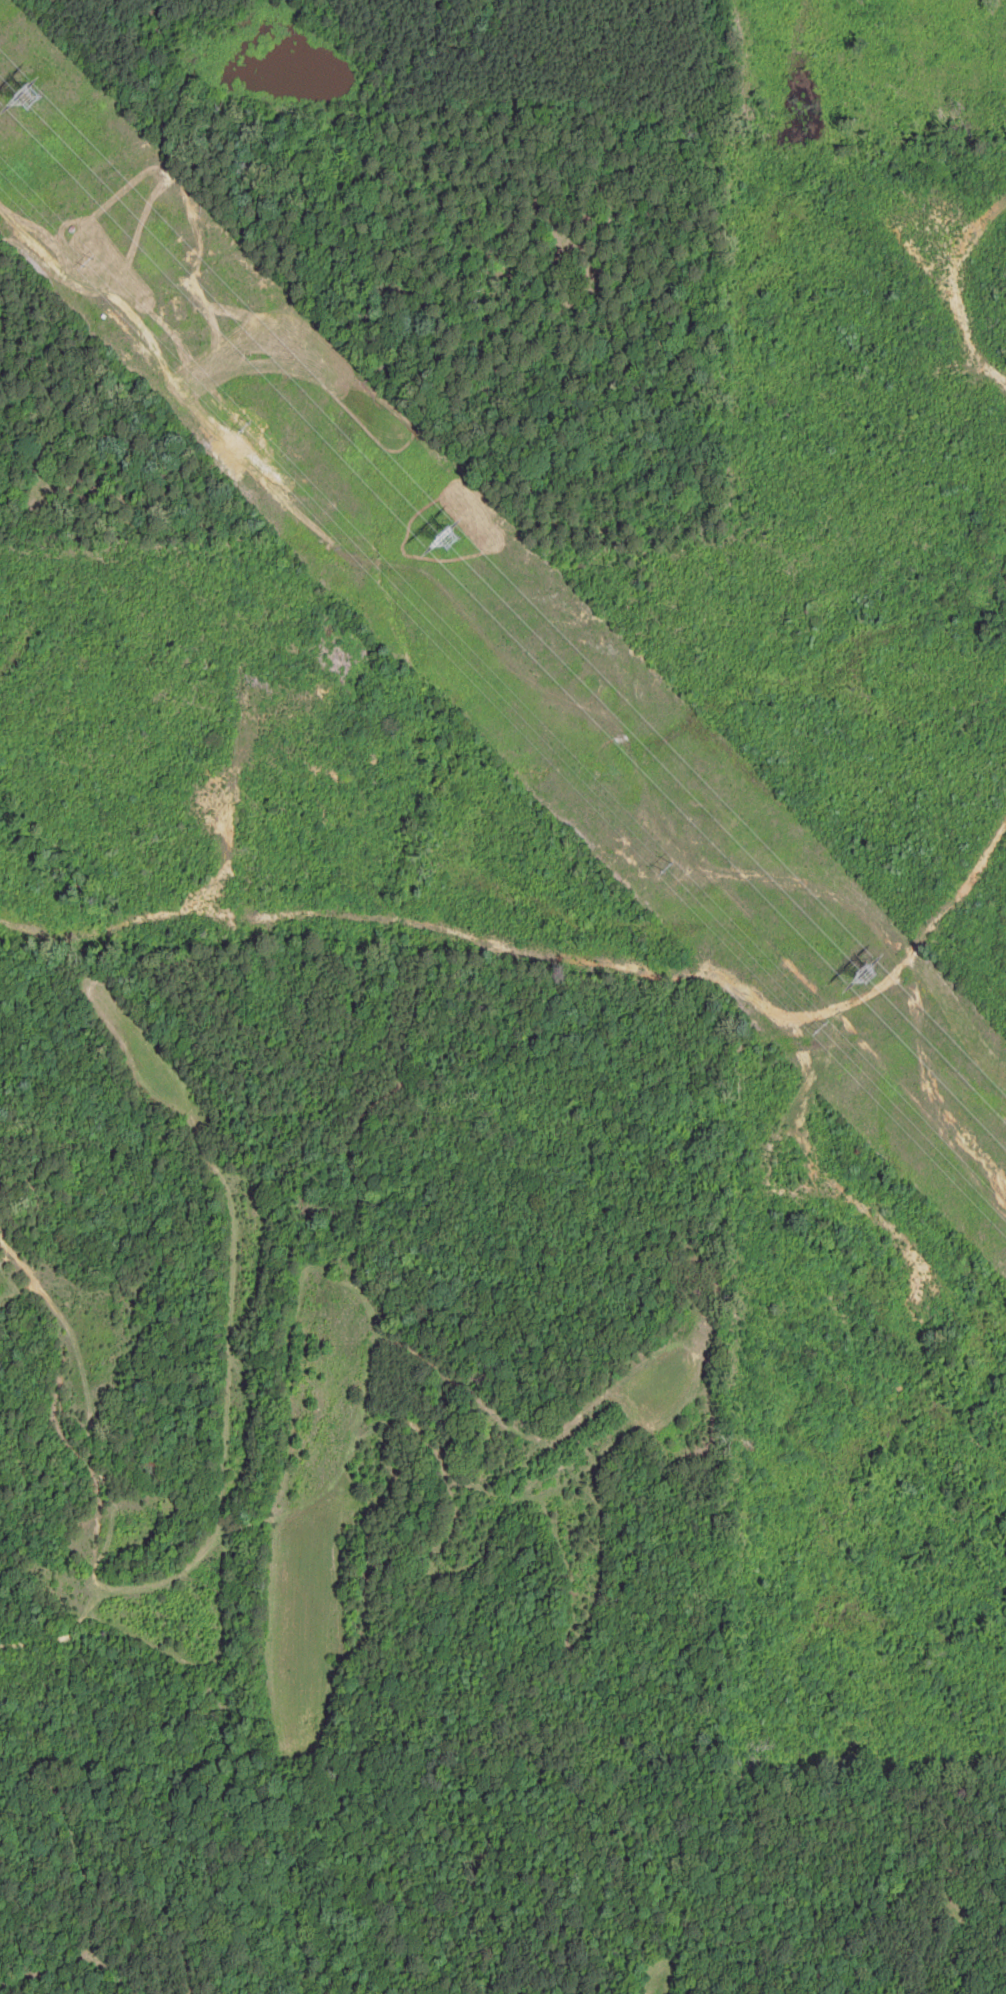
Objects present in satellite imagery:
power tower: (5, 95)
power tower: (90, 260)
power tower: (247, 425)
power tower: (434, 537)
power tower: (671, 867)
power tower: (851, 974)
power tower: (821, 1028)

